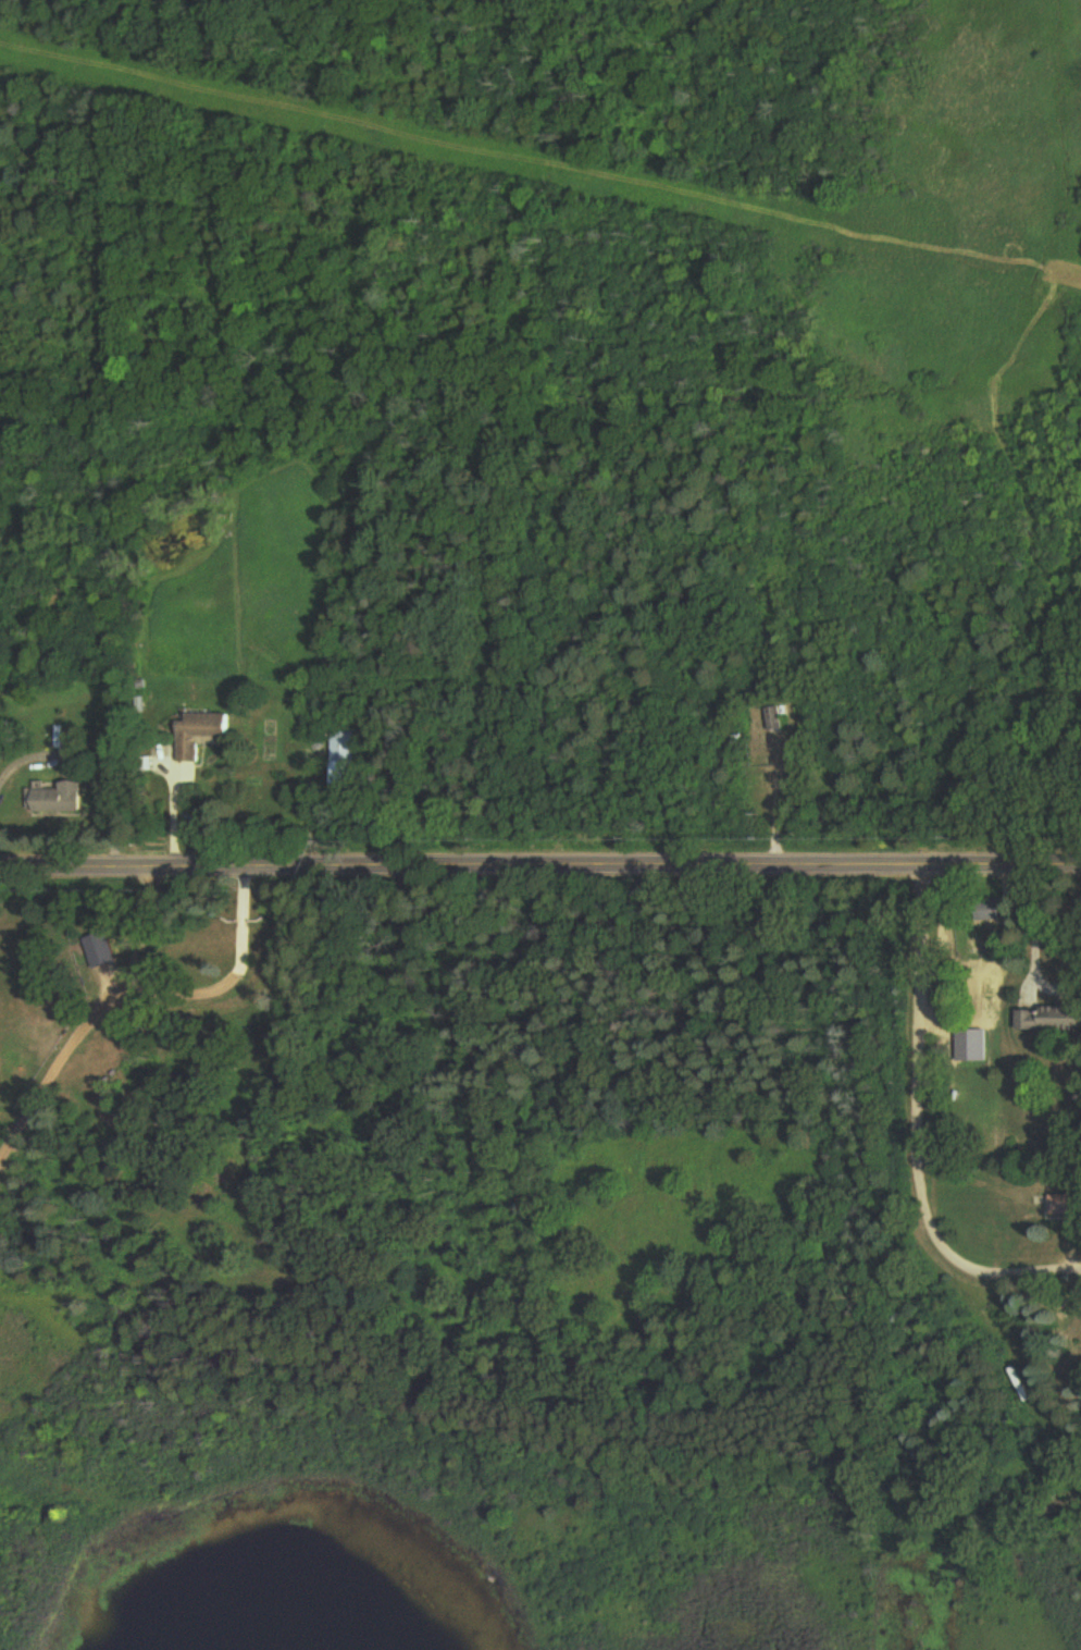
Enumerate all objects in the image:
building: (780, 719)
building: (206, 735)
building: (346, 748)
road: (770, 792)
building: (61, 801)
road: (540, 869)
road: (1031, 949)
road: (135, 996)
building: (1052, 1019)
road: (916, 1132)
building: (1065, 1205)

